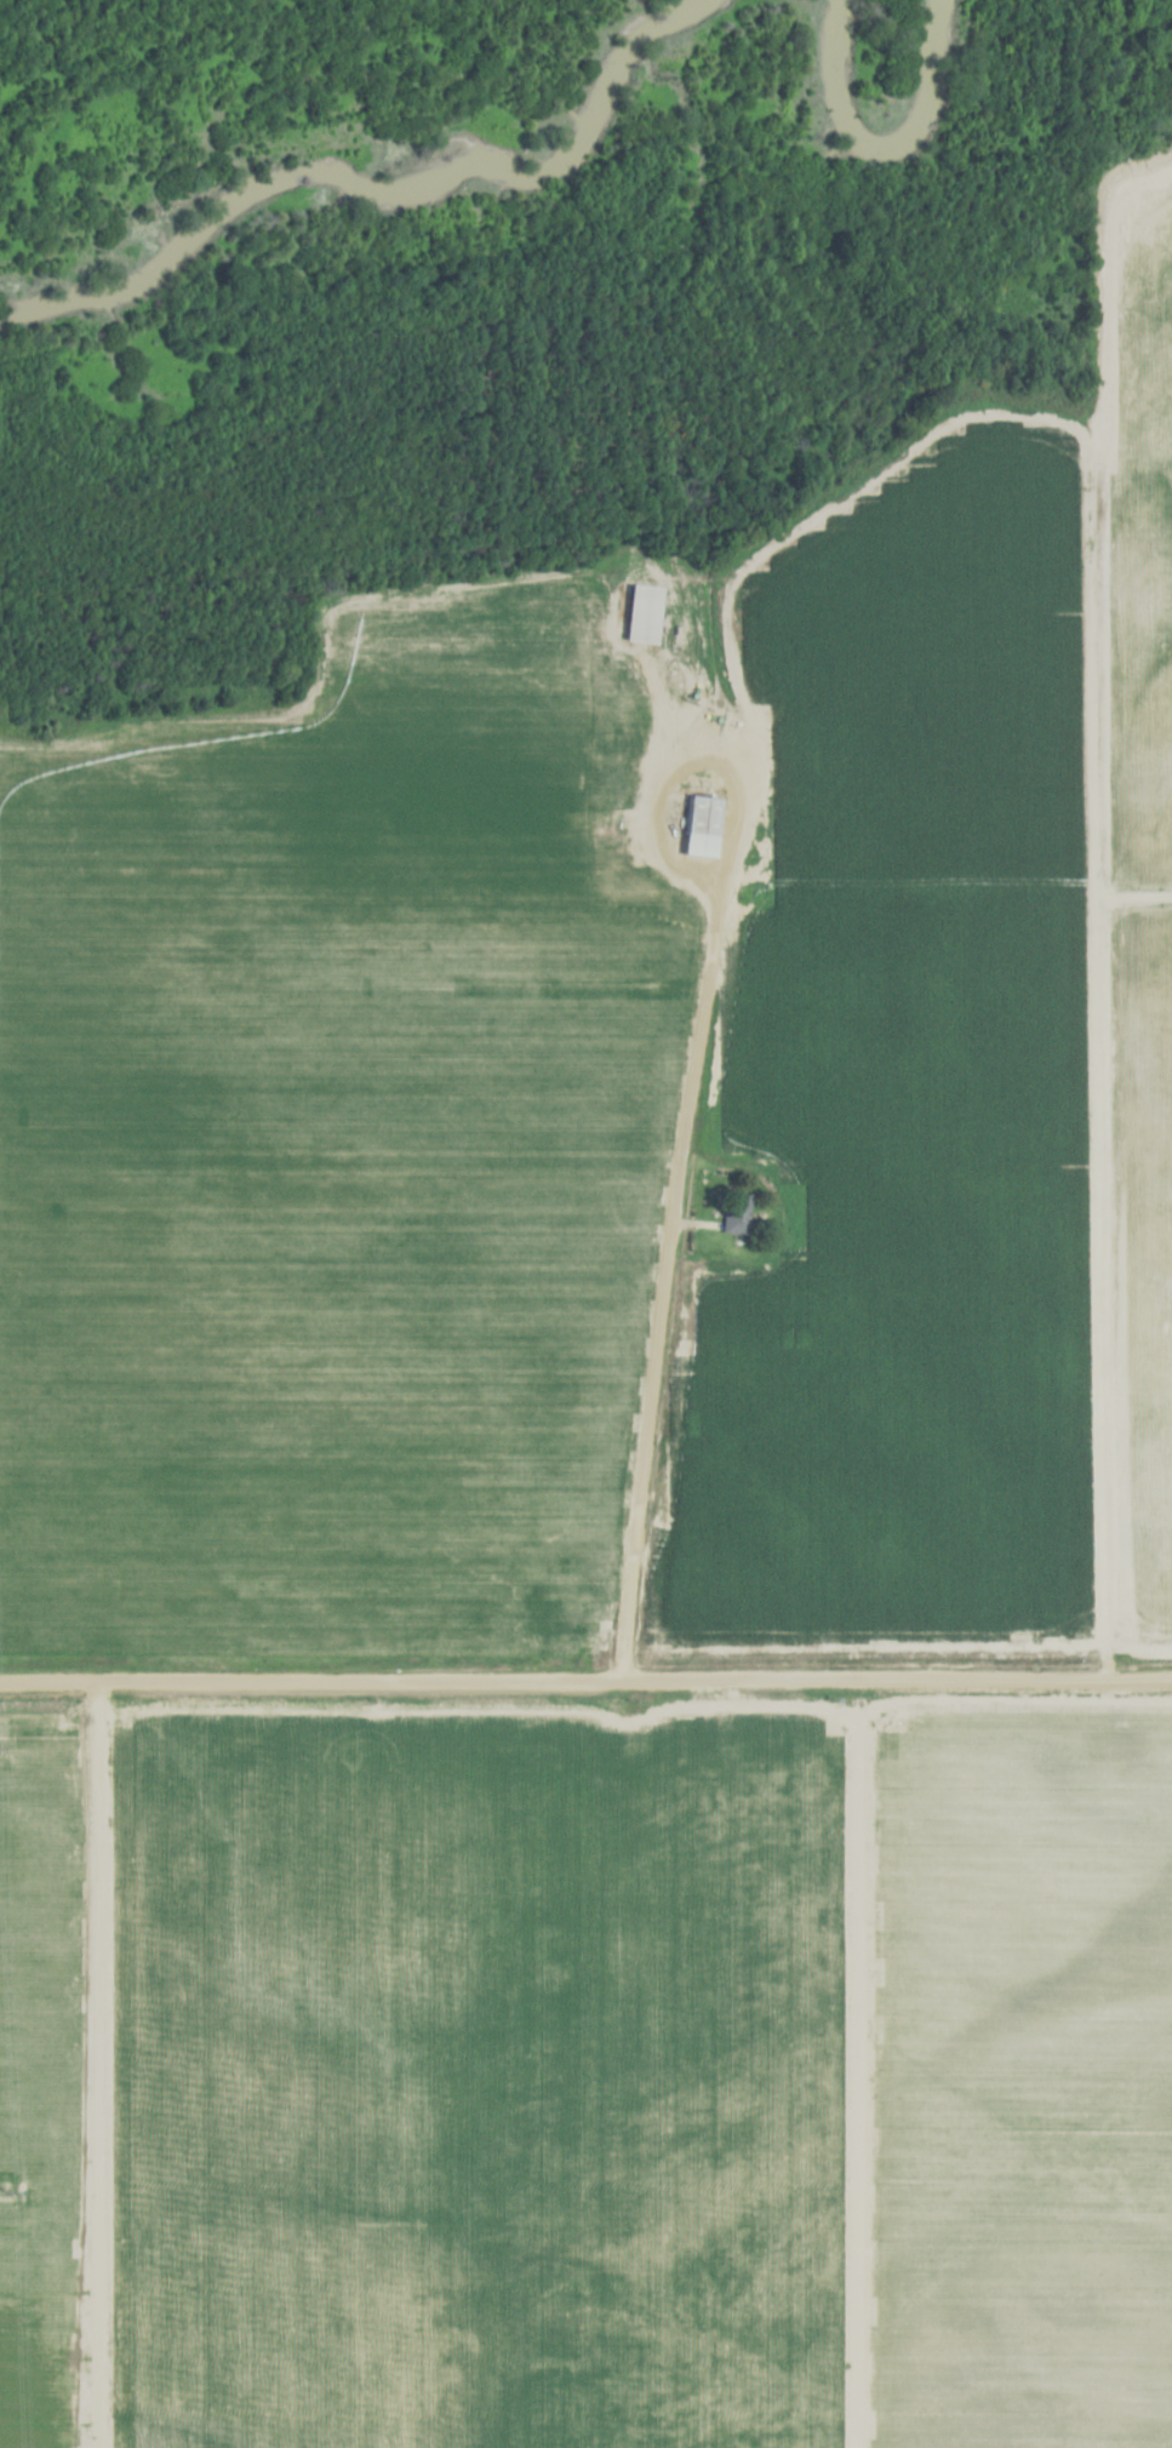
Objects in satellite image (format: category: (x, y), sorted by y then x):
building: (646, 613)
building: (703, 828)
building: (738, 1214)
road: (671, 1235)
road: (585, 1680)

